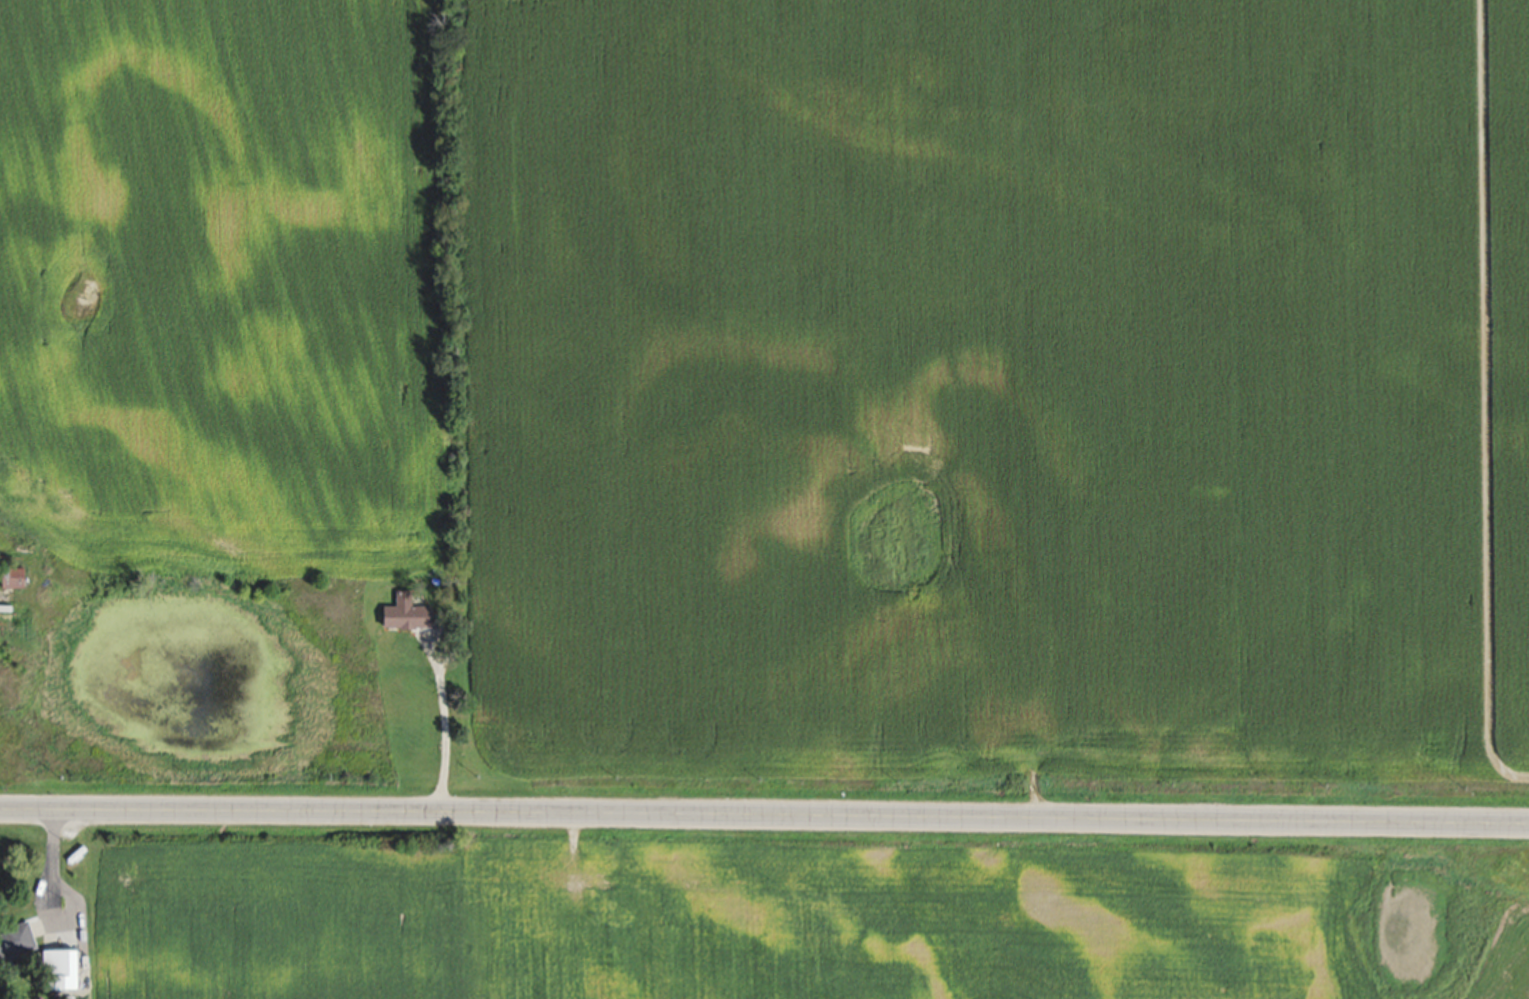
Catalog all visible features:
building: (9, 579)
building: (402, 614)
road: (442, 730)
road: (764, 824)
road: (51, 876)
building: (14, 942)
building: (48, 963)

